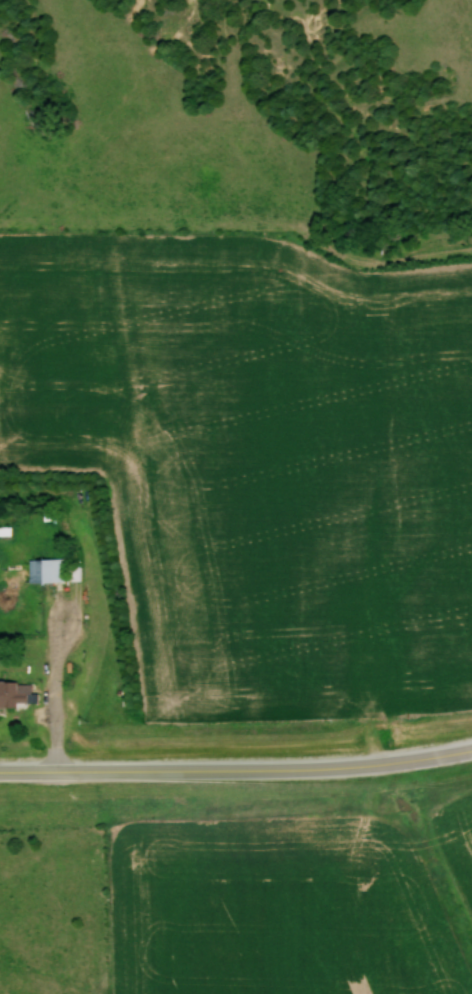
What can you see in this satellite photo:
building: (46, 571)
building: (73, 574)
road: (53, 679)
building: (17, 694)
road: (236, 769)

